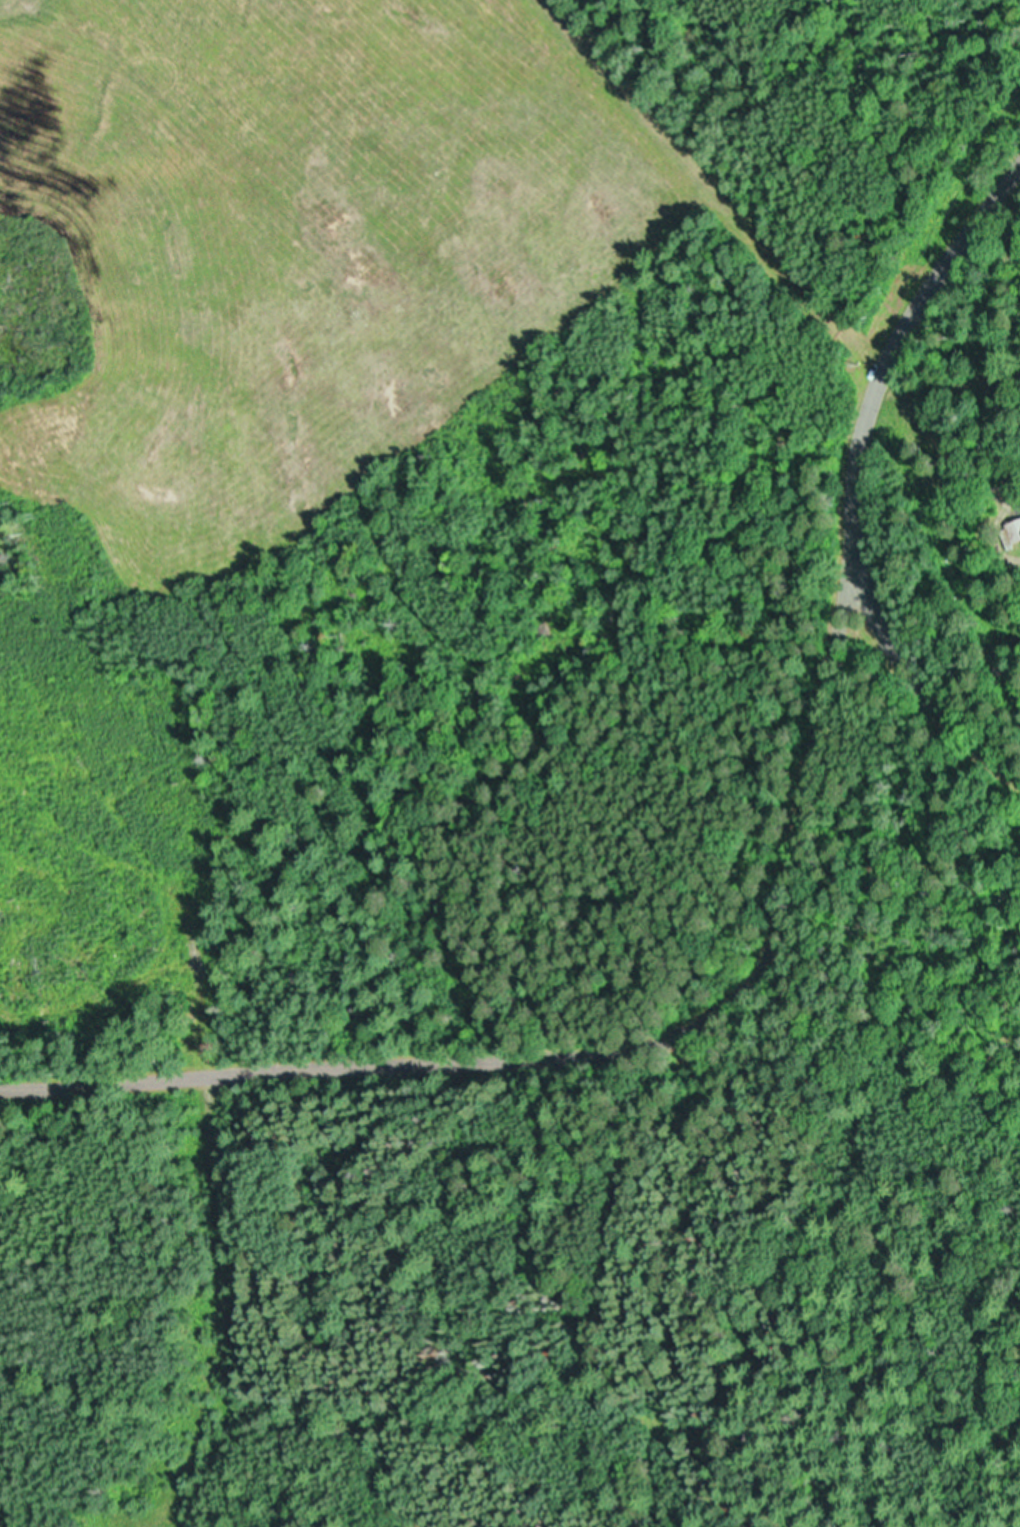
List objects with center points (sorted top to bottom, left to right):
airport: (227, 424)
road: (847, 469)
building: (1013, 532)
building: (191, 1042)
road: (594, 1053)

